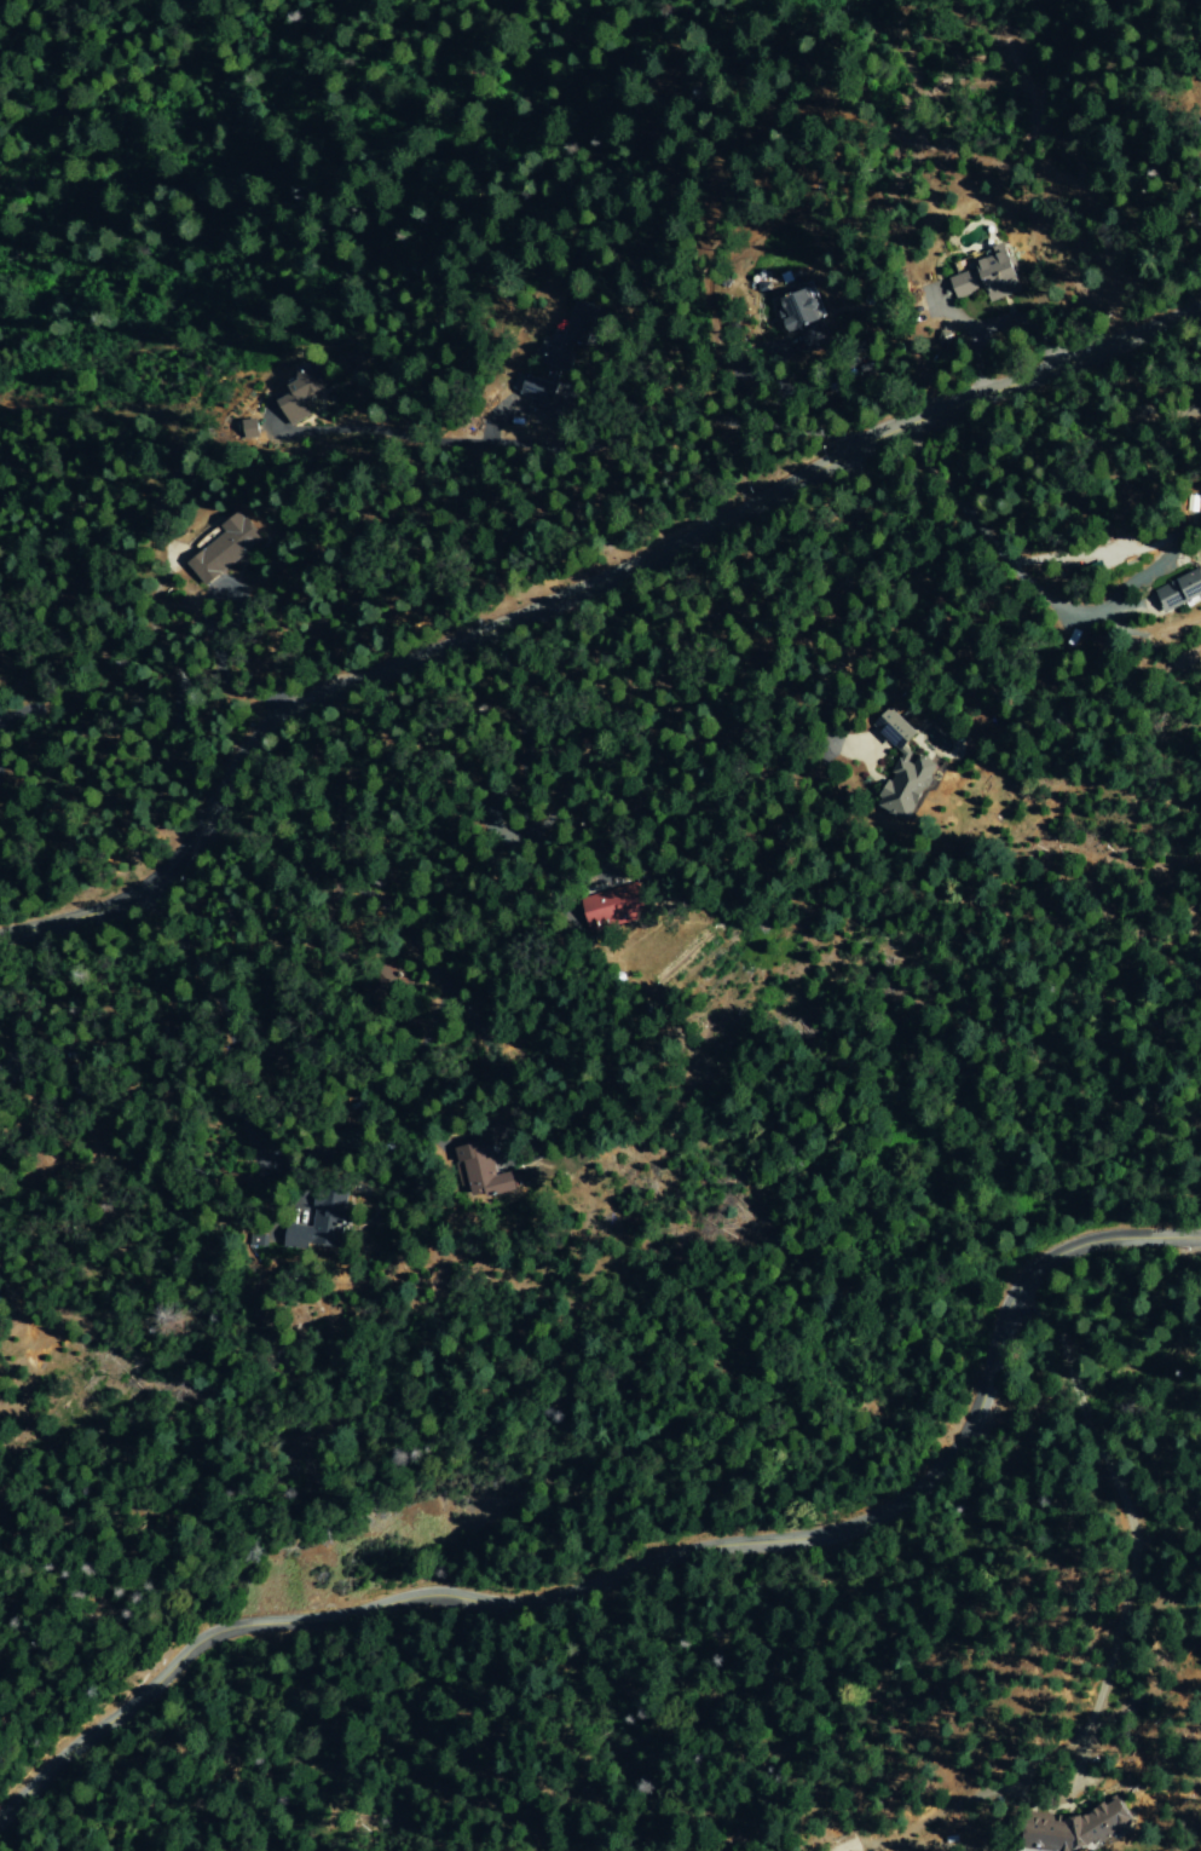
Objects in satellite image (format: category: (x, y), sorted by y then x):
building: (981, 275)
building: (793, 308)
building: (291, 403)
building: (244, 428)
building: (223, 547)
building: (1176, 590)
road: (574, 593)
building: (897, 767)
building: (606, 907)
building: (480, 1171)
building: (321, 1221)
road: (640, 1562)
building: (1072, 1828)

